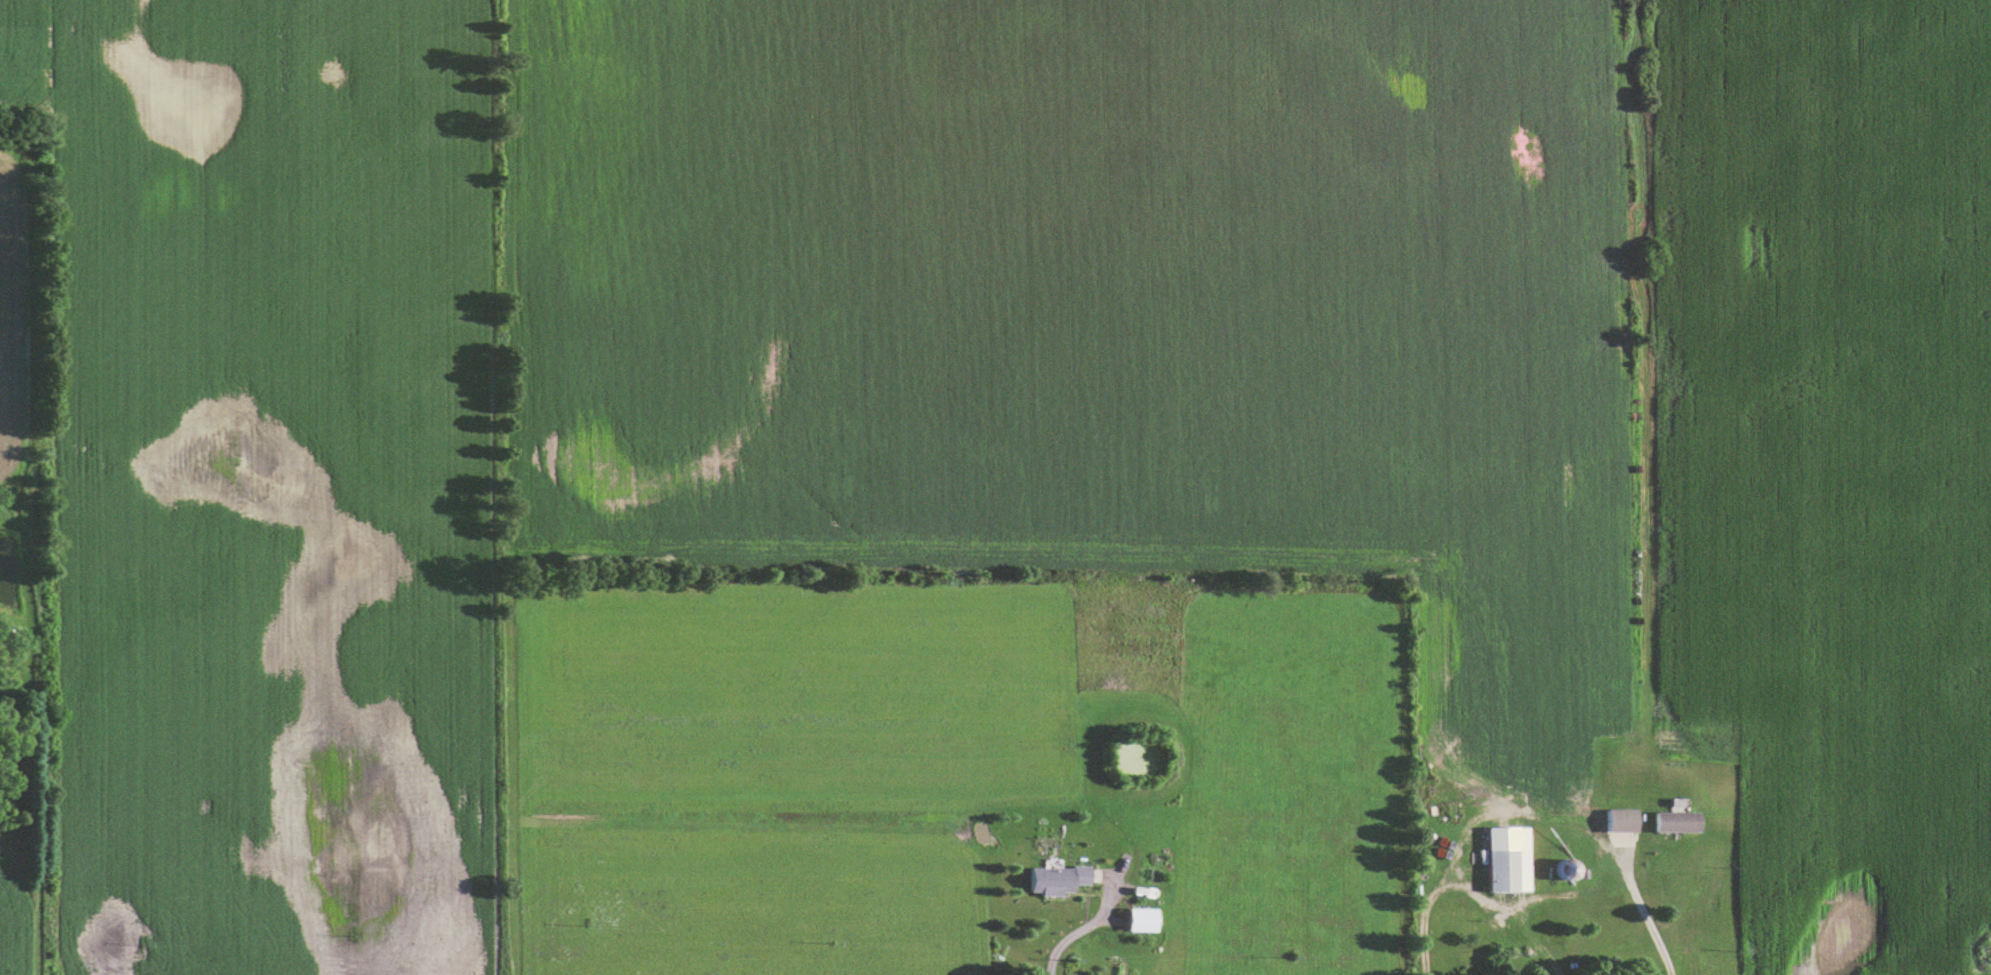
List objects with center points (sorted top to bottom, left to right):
building: (1619, 823)
building: (1674, 825)
building: (1506, 873)
building: (1055, 882)
road: (1644, 918)
building: (1140, 922)
road: (1082, 931)

